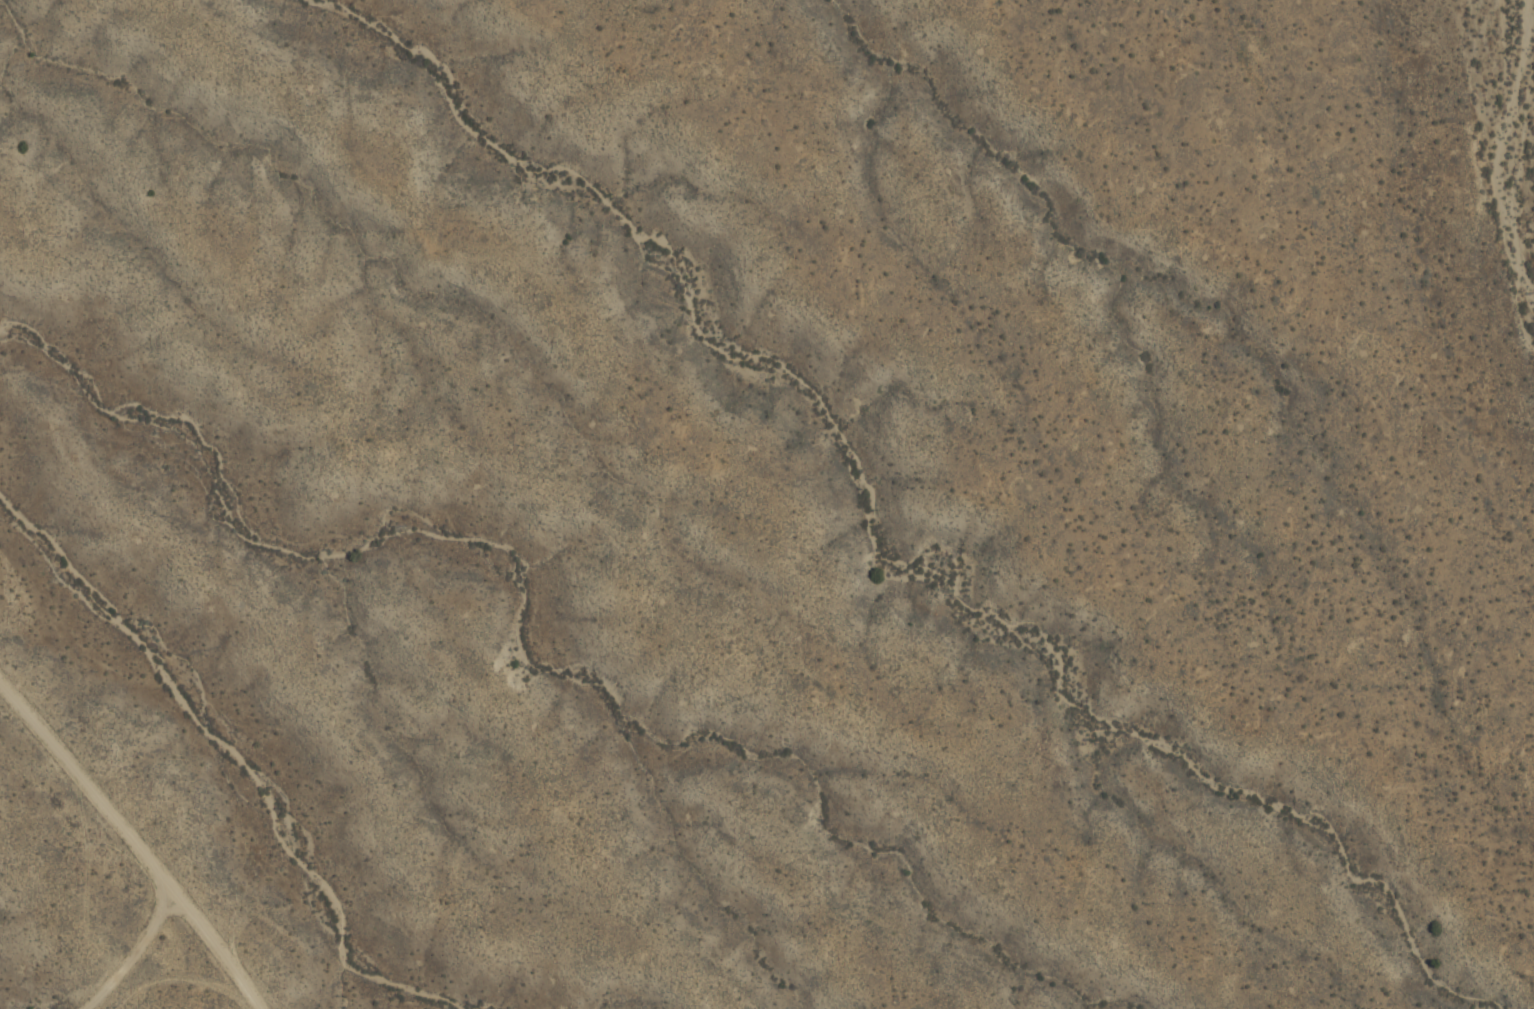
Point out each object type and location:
road: (116, 855)
road: (119, 960)

